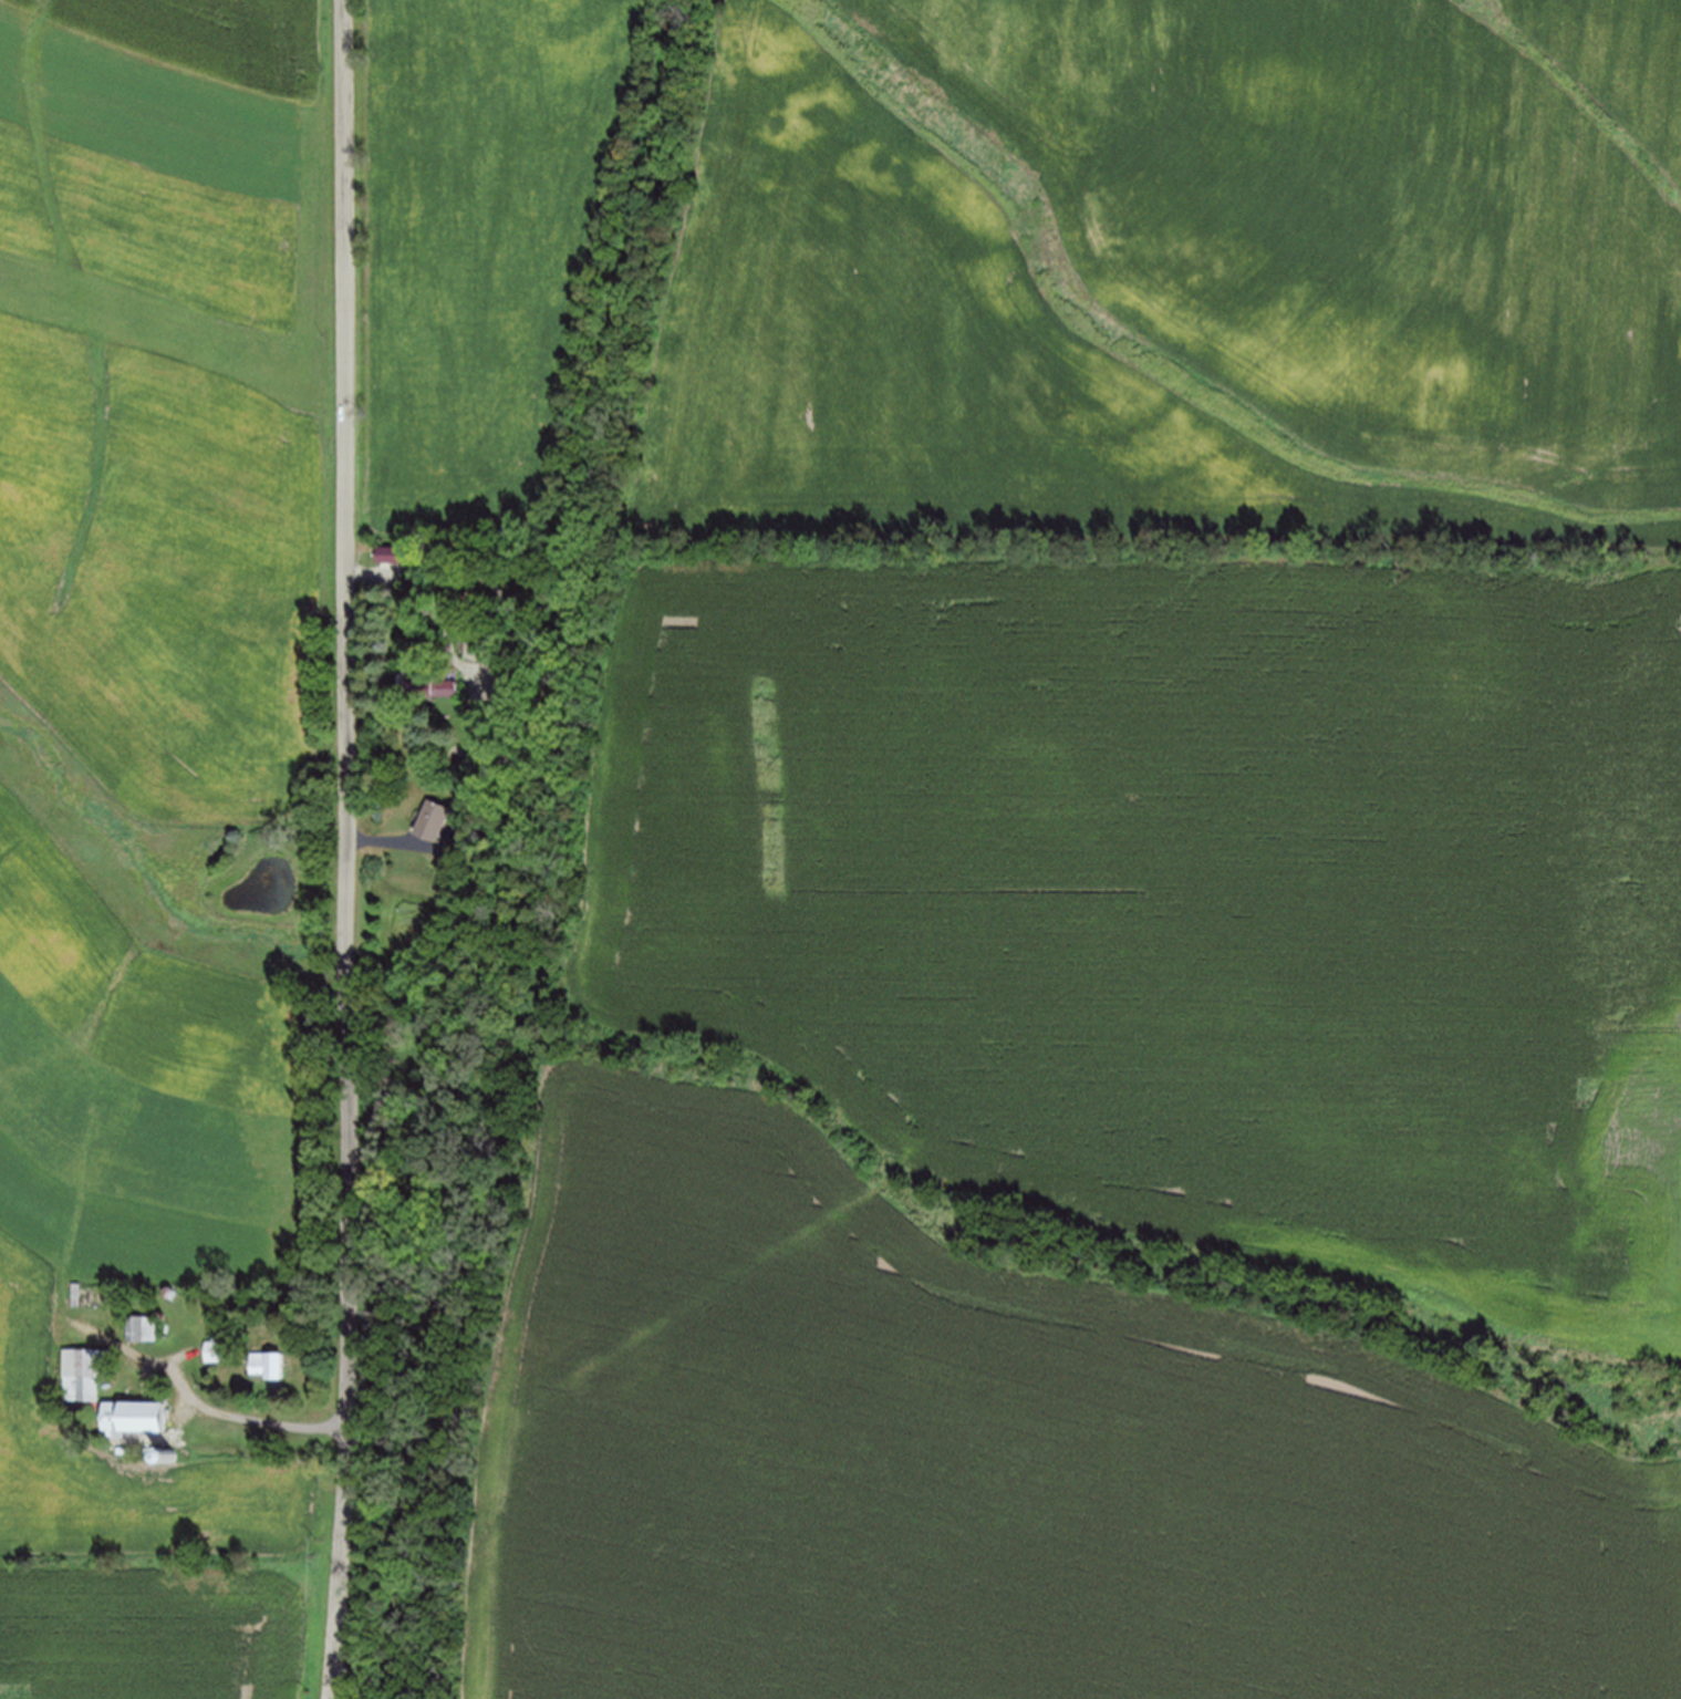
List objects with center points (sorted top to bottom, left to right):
building: (386, 551)
building: (428, 685)
building: (427, 817)
road: (504, 845)
road: (339, 849)
building: (139, 1326)
building: (215, 1346)
building: (264, 1363)
building: (80, 1376)
building: (129, 1413)
road: (241, 1416)

